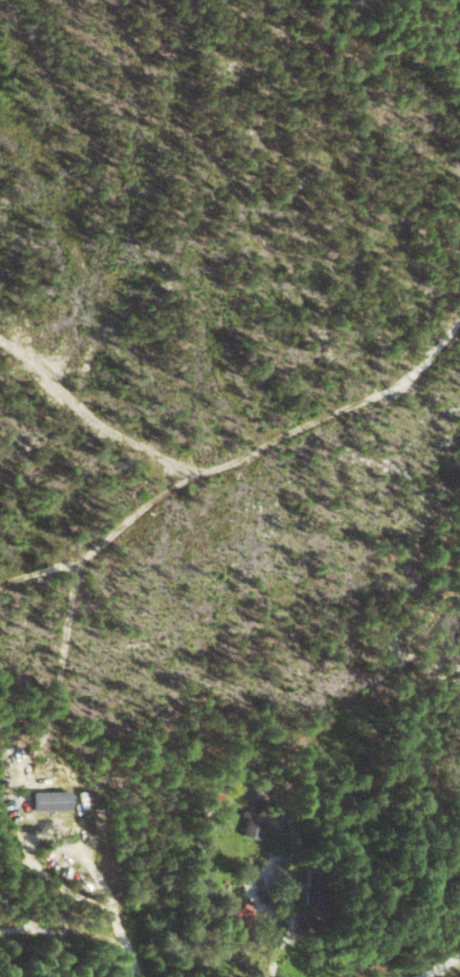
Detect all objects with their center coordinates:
building: (52, 800)
building: (252, 825)
road: (280, 872)
road: (109, 905)
building: (243, 913)
road: (439, 967)

